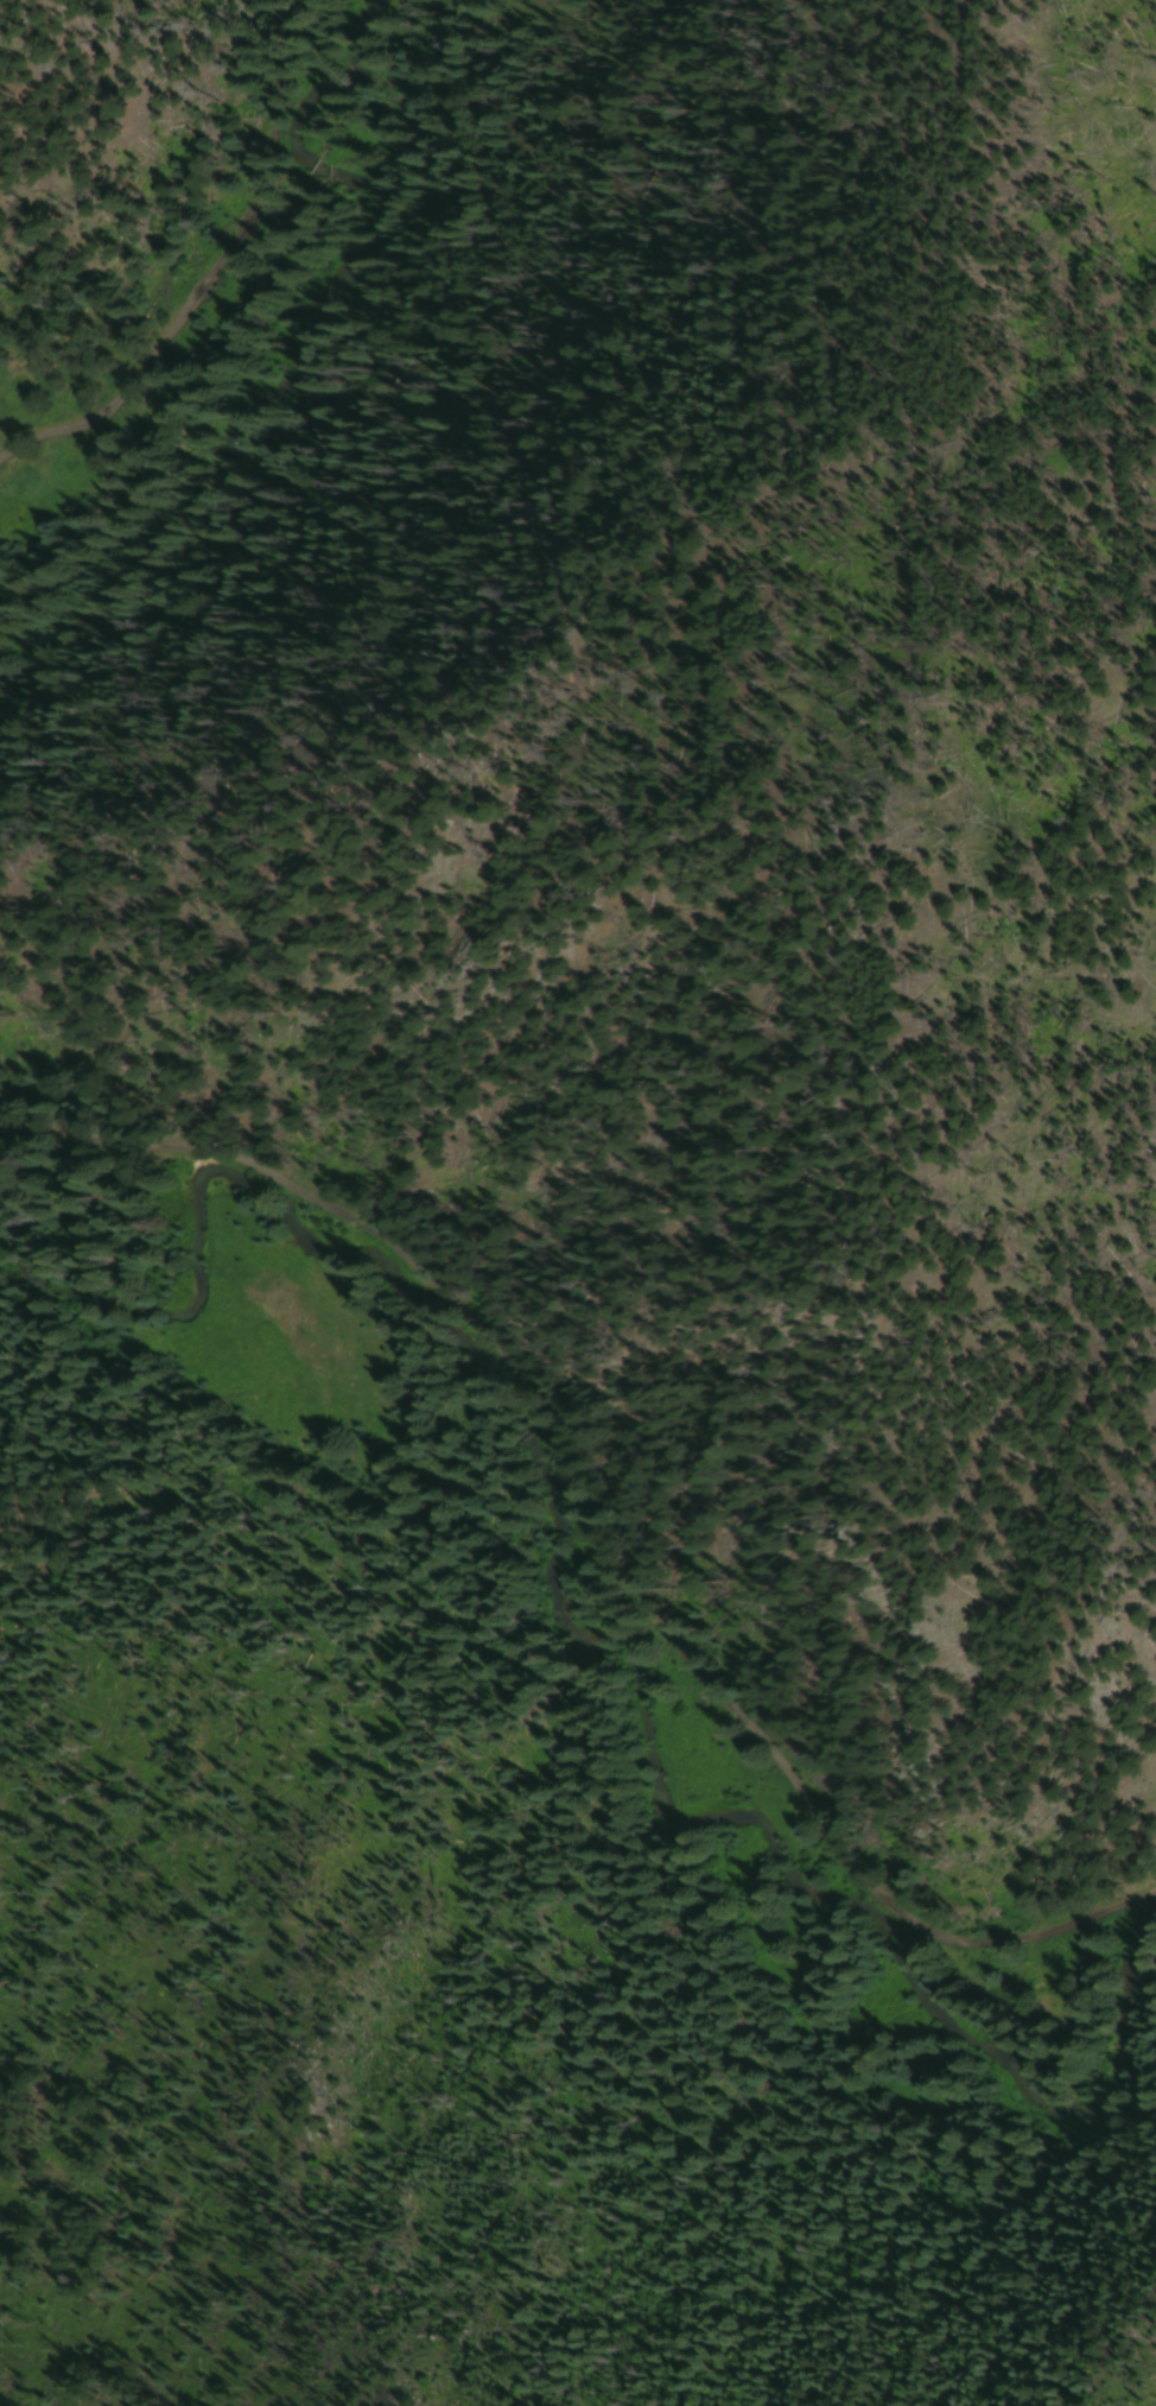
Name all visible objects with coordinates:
road: (208, 271)
river: (294, 352)
road: (591, 1528)
river: (580, 1647)

